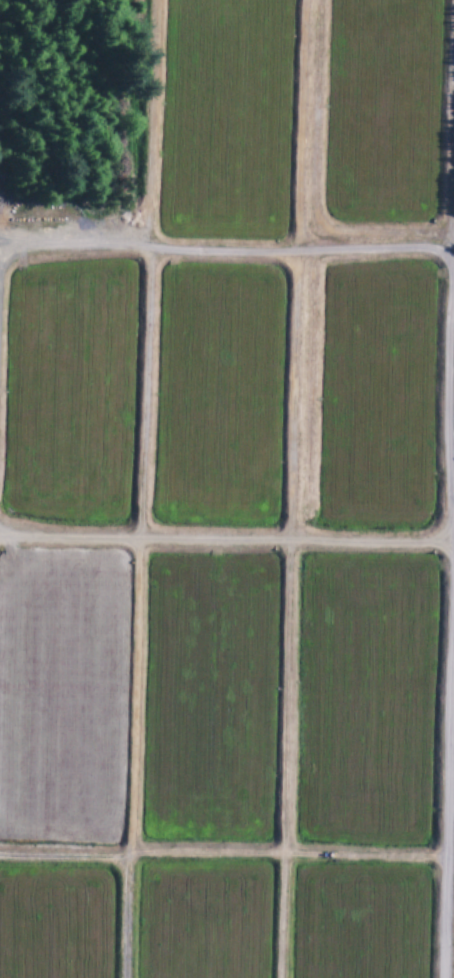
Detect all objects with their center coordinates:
crop: (377, 117)
crop: (227, 119)
crop: (70, 396)
crop: (218, 398)
crop: (371, 398)
crop: (209, 700)
crop: (59, 701)
crop: (364, 703)
crop: (202, 920)
crop: (360, 922)
crop: (56, 925)

